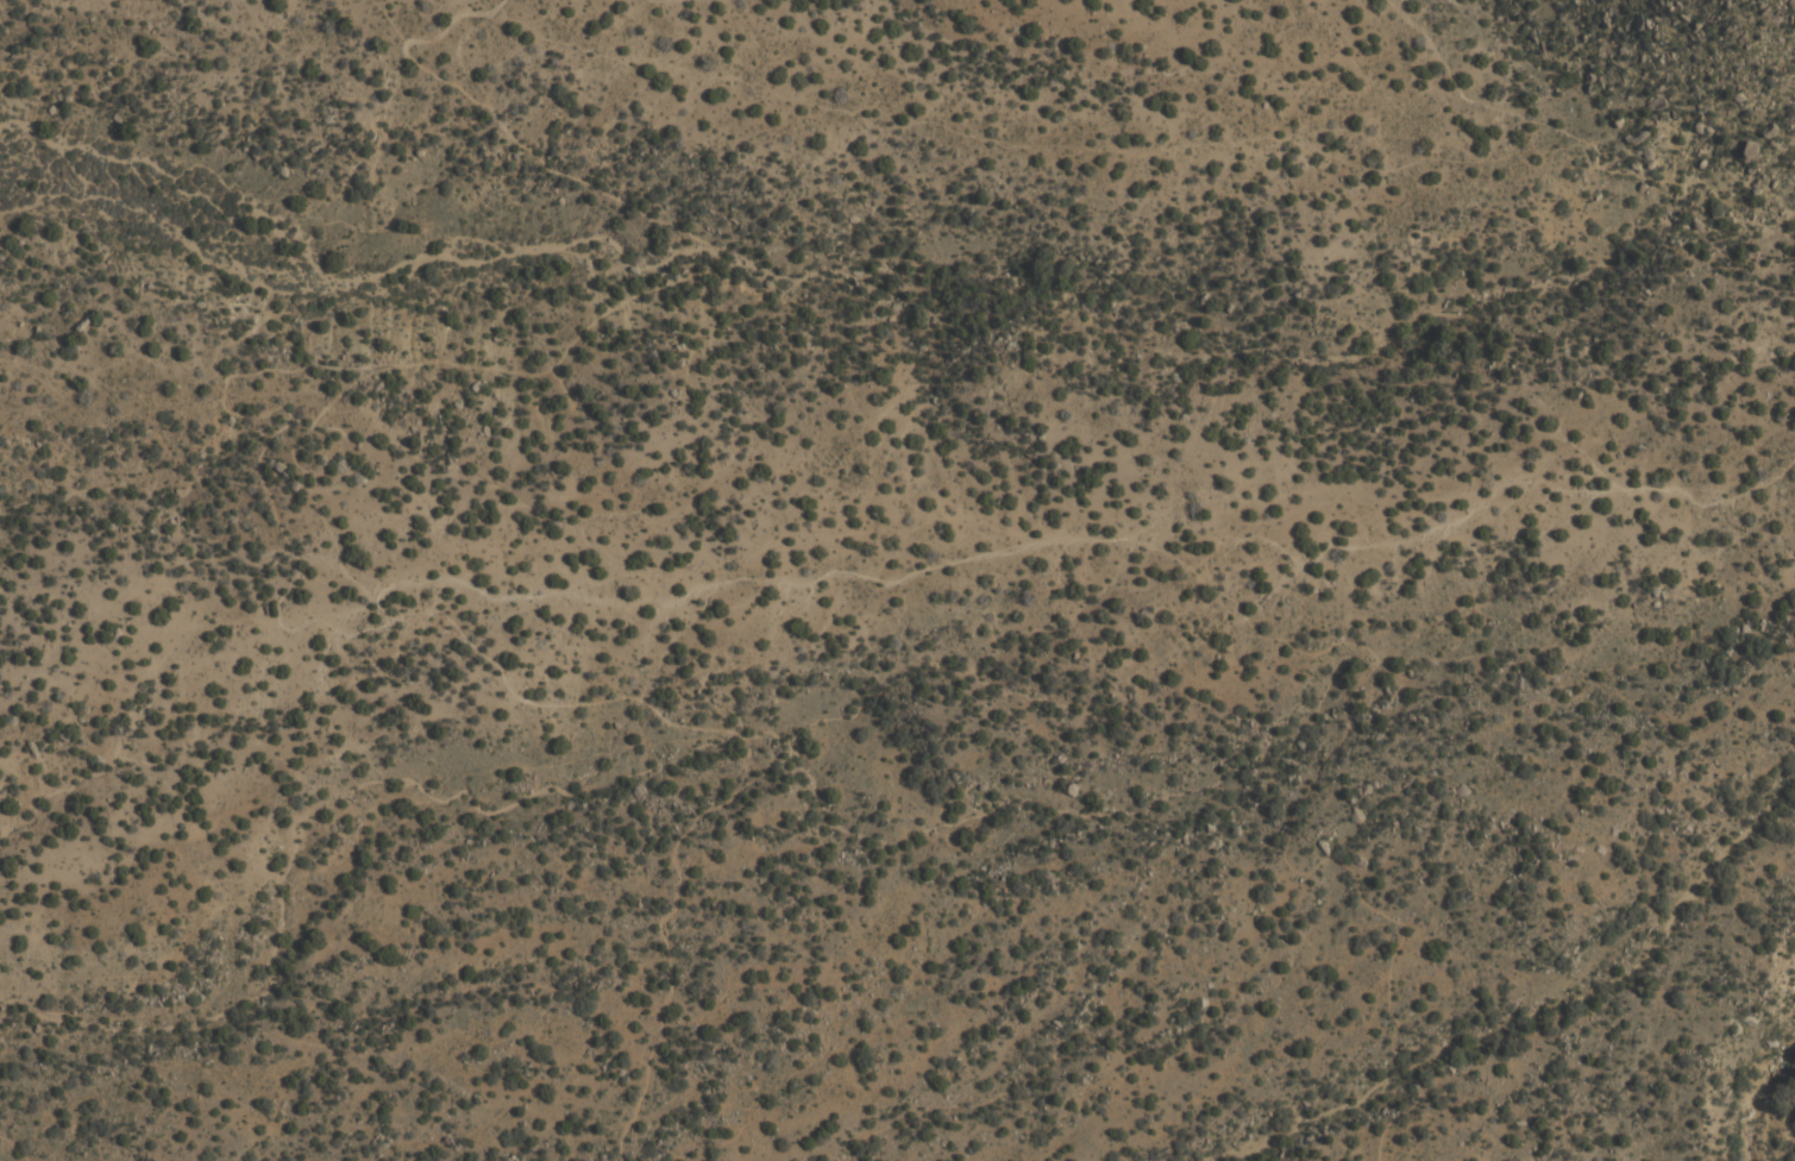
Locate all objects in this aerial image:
road: (1581, 139)
road: (249, 465)
road: (1048, 541)
park: (1487, 774)
road: (1306, 868)

